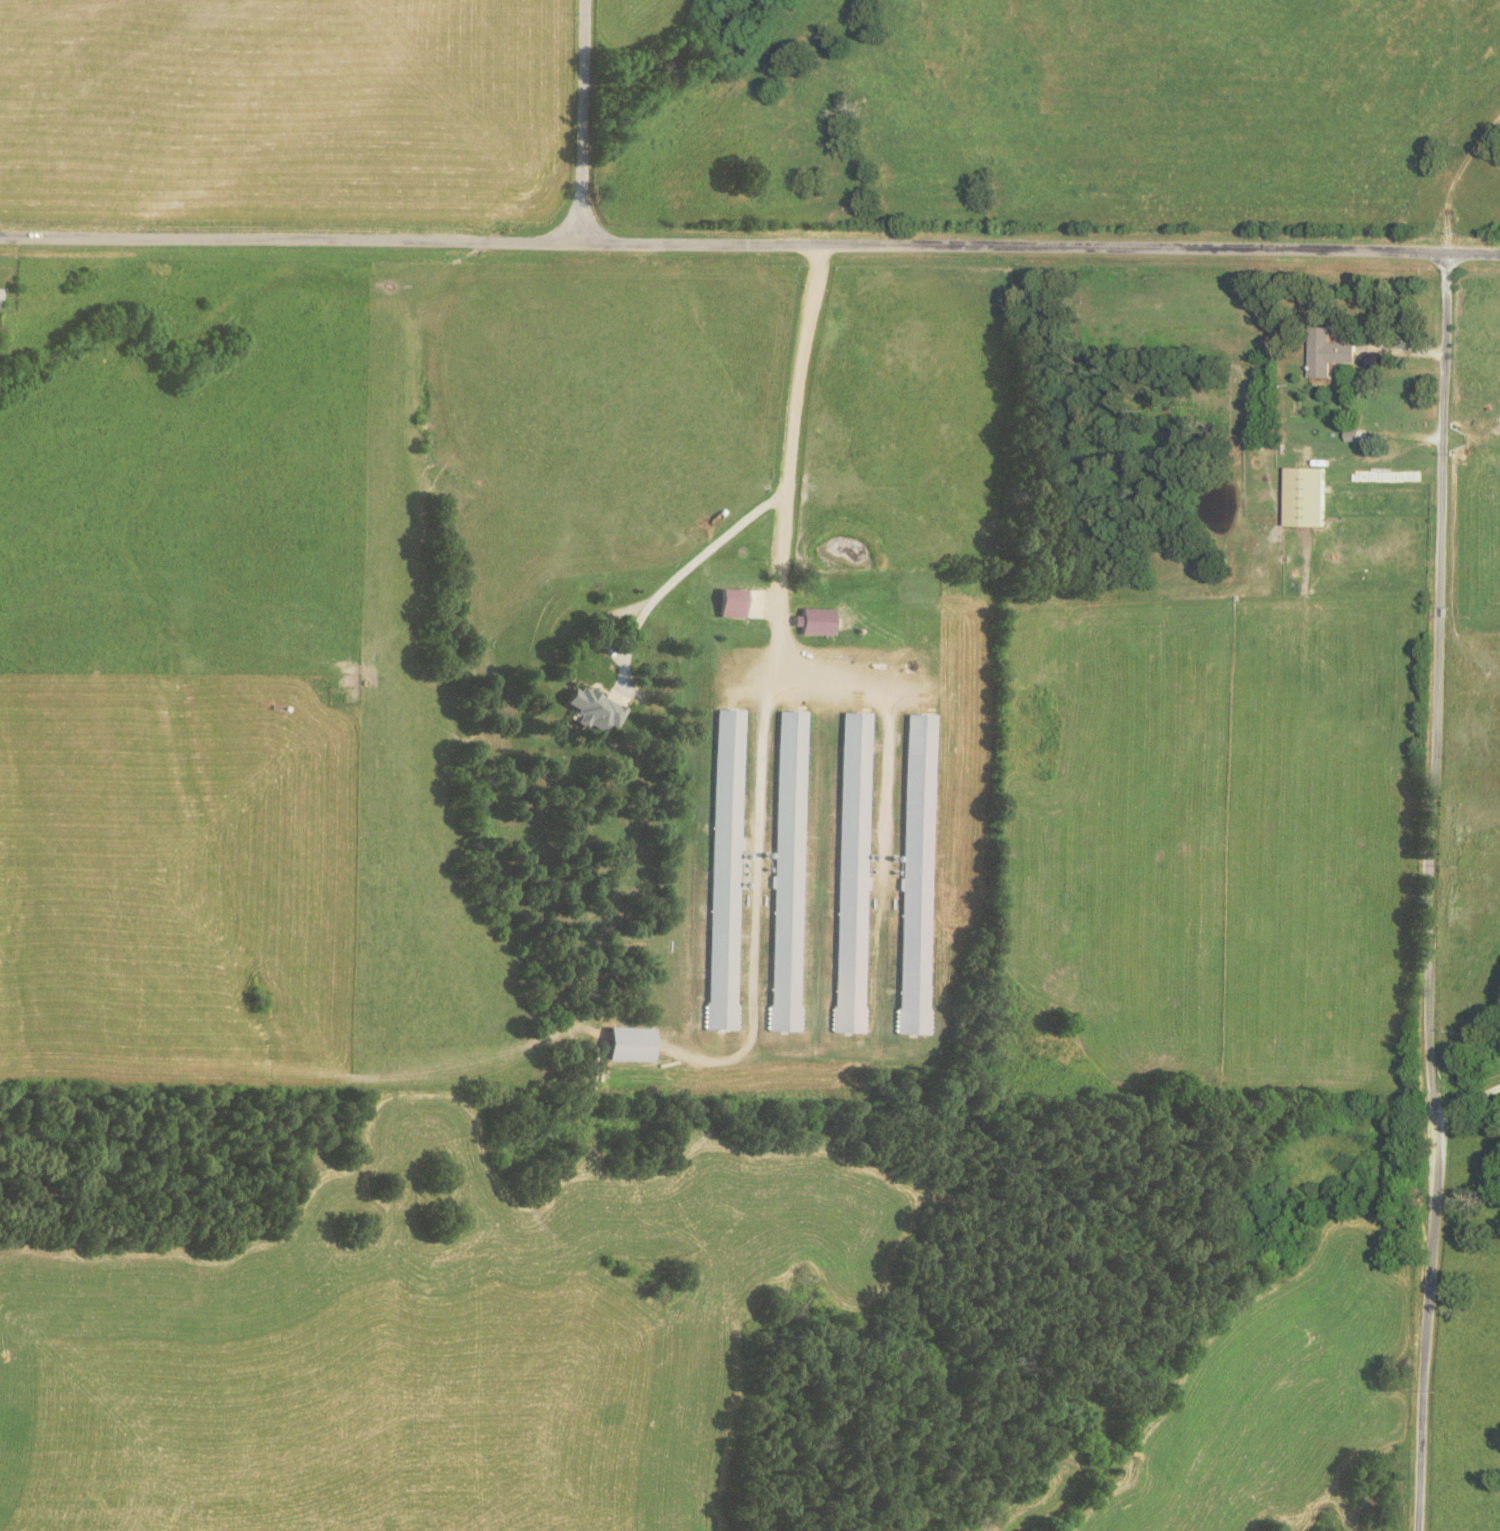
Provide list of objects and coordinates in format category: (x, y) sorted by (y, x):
road: (584, 121)
road: (750, 244)
building: (1321, 352)
road: (788, 459)
building: (1297, 498)
road: (680, 575)
building: (726, 603)
building: (814, 622)
building: (589, 709)
road: (1431, 819)
building: (722, 870)
building: (786, 871)
building: (850, 873)
building: (914, 874)
building: (622, 1045)

